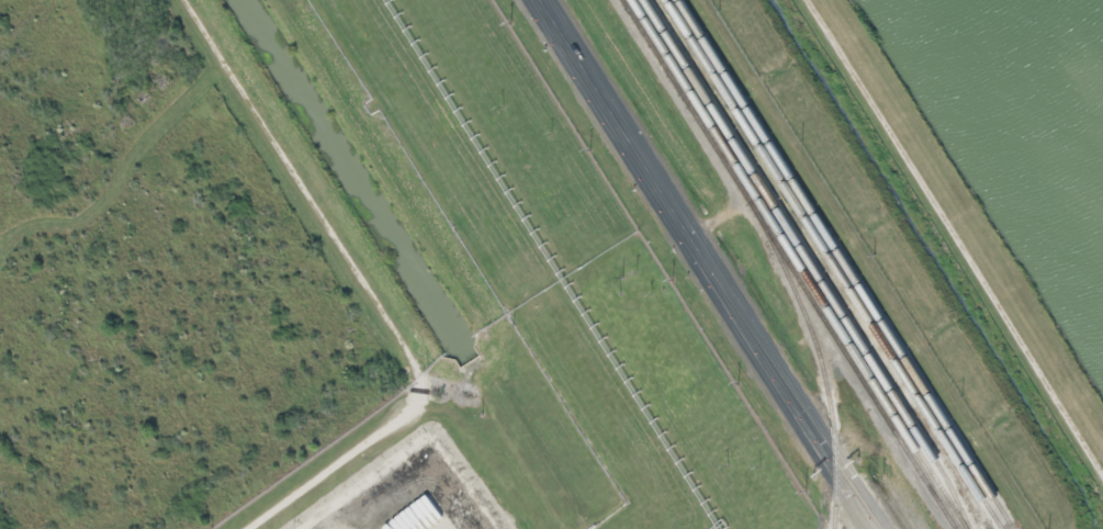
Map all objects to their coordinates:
railway: (693, 104)
road: (953, 239)
railway: (845, 259)
railway: (813, 262)
railway: (836, 262)
railway: (803, 263)
road: (709, 264)
road: (367, 285)
railway: (823, 362)
railway: (863, 369)

